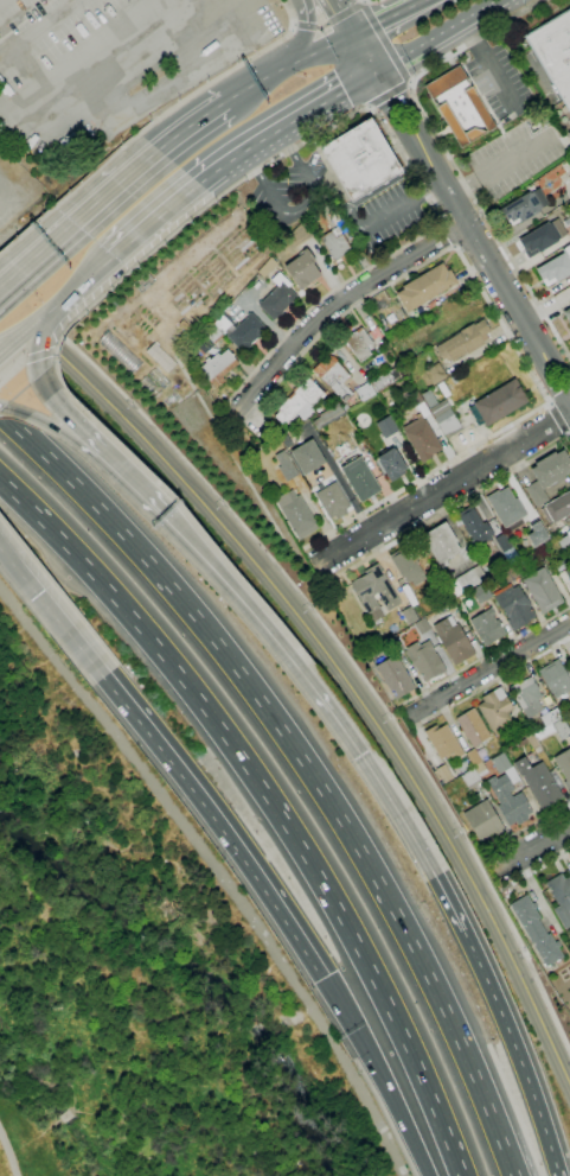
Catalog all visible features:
road: (2, 1)
road: (363, 1)
road: (287, 11)
road: (344, 15)
road: (384, 17)
road: (329, 20)
road: (473, 21)
road: (292, 24)
road: (37, 28)
traffic signals: (354, 34)
road: (475, 37)
road: (301, 39)
road: (385, 42)
building: (555, 51)
road: (366, 55)
road: (405, 59)
parking lot: (109, 61)
road: (122, 62)
road: (288, 66)
traffic signals: (378, 75)
road: (217, 80)
road: (498, 80)
road: (409, 82)
parking lot: (500, 83)
road: (388, 94)
building: (459, 107)
road: (366, 108)
road: (408, 110)
road: (19, 114)
road: (395, 119)
road: (190, 126)
road: (286, 126)
building: (569, 135)
road: (447, 154)
parking lot: (514, 157)
road: (515, 158)
building: (361, 159)
road: (463, 187)
road: (371, 189)
parking lot: (287, 191)
road: (69, 195)
road: (299, 205)
road: (398, 206)
building: (524, 206)
road: (434, 209)
parking lot: (385, 214)
road: (77, 215)
road: (154, 221)
road: (438, 222)
road: (446, 234)
building: (542, 237)
building: (333, 244)
road: (451, 247)
road: (481, 252)
building: (301, 268)
building: (556, 268)
road: (132, 269)
road: (0, 282)
road: (0, 284)
road: (81, 286)
building: (423, 286)
street lamp: (34, 295)
building: (275, 297)
road: (333, 304)
building: (566, 313)
road: (500, 324)
road: (36, 325)
building: (244, 331)
road: (11, 341)
building: (465, 341)
building: (357, 343)
road: (11, 347)
road: (40, 355)
traffic signals: (41, 360)
road: (557, 363)
building: (216, 367)
road: (12, 373)
building: (435, 374)
building: (332, 376)
road: (45, 381)
road: (550, 382)
building: (296, 400)
road: (547, 401)
building: (500, 402)
building: (440, 408)
road: (558, 418)
road: (41, 420)
building: (447, 424)
building: (386, 427)
road: (569, 433)
road: (568, 436)
building: (422, 439)
road: (569, 439)
building: (307, 457)
building: (391, 465)
building: (288, 471)
road: (120, 476)
building: (547, 476)
building: (360, 479)
road: (444, 487)
building: (333, 501)
building: (506, 507)
building: (558, 507)
road: (446, 510)
building: (299, 515)
building: (474, 526)
building: (564, 541)
building: (441, 542)
building: (502, 542)
building: (406, 566)
building: (466, 580)
building: (543, 590)
building: (376, 591)
road: (173, 592)
building: (481, 593)
road: (241, 600)
building: (514, 608)
road: (52, 610)
building: (487, 628)
road: (329, 631)
building: (455, 644)
road: (485, 655)
road: (328, 656)
building: (425, 660)
road: (489, 667)
building: (396, 678)
building: (555, 678)
road: (491, 684)
building: (569, 695)
road: (197, 697)
building: (526, 697)
building: (495, 708)
building: (550, 717)
building: (473, 727)
building: (562, 729)
building: (443, 743)
building: (473, 757)
building: (501, 763)
building: (564, 764)
building: (481, 770)
building: (443, 774)
building: (470, 780)
building: (538, 782)
building: (508, 799)
road: (392, 805)
road: (500, 819)
building: (483, 820)
road: (216, 824)
road: (527, 828)
road: (532, 847)
road: (536, 869)
road: (218, 871)
road: (518, 890)
road: (534, 895)
building: (561, 897)
building: (537, 930)
park: (147, 966)
river: (193, 970)
traffic signals: (322, 978)
road: (430, 978)
road: (514, 1047)
road: (412, 1059)
road: (374, 1075)
road: (8, 1152)

